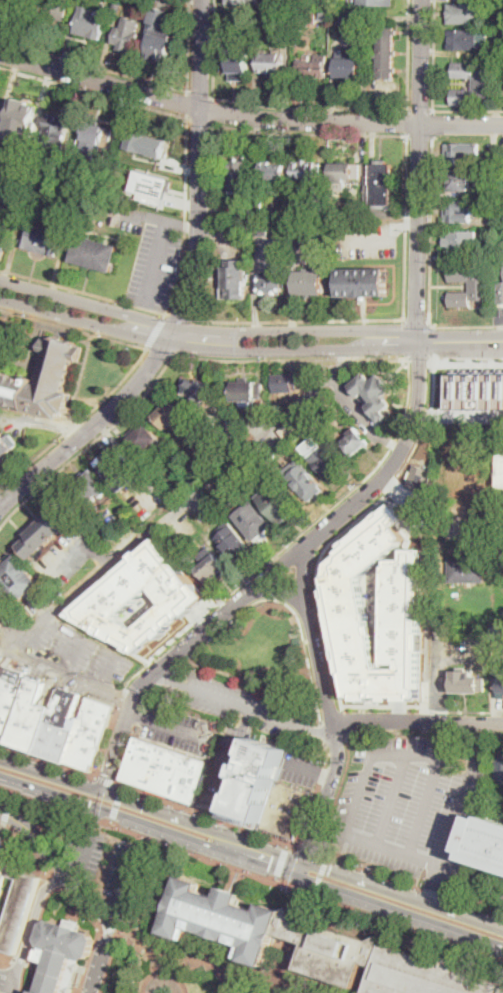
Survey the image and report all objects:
building: (259, 0)
building: (241, 1)
building: (376, 3)
building: (16, 5)
building: (58, 8)
building: (117, 10)
building: (462, 13)
building: (297, 14)
building: (311, 17)
building: (324, 17)
building: (349, 20)
building: (227, 21)
building: (89, 23)
building: (297, 27)
building: (126, 34)
building: (468, 40)
road: (188, 46)
building: (159, 47)
road: (213, 47)
building: (385, 51)
building: (499, 52)
road: (407, 54)
road: (433, 55)
building: (238, 63)
road: (94, 64)
building: (271, 64)
building: (348, 65)
building: (313, 66)
building: (474, 83)
road: (200, 94)
road: (139, 102)
road: (187, 103)
road: (212, 108)
road: (309, 108)
road: (420, 109)
road: (468, 109)
building: (25, 115)
road: (198, 116)
road: (247, 116)
road: (407, 121)
road: (433, 123)
building: (56, 131)
road: (299, 132)
road: (419, 135)
building: (97, 137)
building: (146, 143)
building: (494, 150)
building: (461, 154)
building: (5, 158)
building: (306, 172)
building: (272, 173)
building: (343, 175)
building: (459, 180)
building: (98, 181)
building: (240, 184)
building: (380, 184)
building: (10, 185)
building: (150, 187)
building: (259, 208)
building: (322, 211)
building: (357, 211)
building: (460, 211)
road: (150, 217)
building: (499, 217)
road: (189, 225)
road: (409, 225)
building: (262, 228)
road: (430, 229)
building: (309, 230)
building: (241, 234)
road: (374, 236)
building: (41, 239)
parking lot: (368, 239)
building: (462, 241)
building: (500, 246)
road: (294, 249)
road: (258, 251)
building: (95, 253)
parking lot: (269, 253)
parking lot: (308, 254)
parking lot: (151, 255)
road: (157, 263)
road: (179, 263)
building: (235, 280)
building: (309, 282)
building: (364, 282)
building: (271, 284)
building: (480, 286)
road: (83, 290)
road: (187, 290)
building: (502, 293)
road: (255, 301)
road: (292, 301)
parking lot: (497, 313)
road: (177, 315)
road: (296, 319)
road: (416, 320)
road: (499, 320)
road: (419, 323)
road: (465, 326)
road: (195, 328)
road: (502, 329)
road: (155, 331)
road: (450, 339)
road: (196, 345)
road: (160, 351)
road: (143, 353)
road: (346, 357)
road: (383, 358)
road: (419, 358)
road: (465, 360)
building: (288, 381)
building: (44, 382)
road: (333, 382)
building: (476, 389)
road: (149, 390)
building: (196, 390)
building: (245, 393)
building: (375, 397)
road: (408, 400)
road: (357, 412)
building: (171, 414)
building: (295, 425)
building: (144, 437)
road: (388, 442)
building: (353, 443)
road: (393, 443)
building: (7, 445)
building: (285, 455)
building: (323, 457)
building: (178, 464)
building: (118, 467)
building: (501, 467)
road: (15, 475)
building: (420, 478)
building: (303, 479)
building: (464, 480)
building: (92, 487)
road: (180, 500)
building: (280, 504)
building: (255, 522)
road: (350, 525)
road: (498, 526)
building: (48, 529)
building: (231, 540)
building: (211, 565)
road: (259, 568)
building: (466, 570)
building: (17, 578)
road: (285, 588)
building: (121, 591)
road: (278, 601)
building: (347, 604)
building: (2, 612)
building: (498, 632)
road: (190, 642)
road: (70, 651)
park: (261, 653)
parking lot: (77, 661)
road: (108, 667)
road: (67, 671)
building: (467, 682)
building: (501, 689)
road: (124, 691)
road: (243, 704)
parking lot: (247, 706)
road: (422, 706)
road: (330, 713)
road: (417, 721)
building: (51, 722)
road: (166, 723)
road: (344, 723)
parking lot: (181, 729)
road: (422, 732)
road: (108, 737)
road: (115, 751)
road: (234, 758)
road: (49, 762)
parking lot: (226, 764)
parking lot: (302, 766)
road: (29, 769)
building: (500, 769)
building: (166, 770)
road: (309, 771)
building: (258, 778)
road: (105, 781)
road: (122, 790)
road: (359, 793)
road: (107, 794)
road: (338, 797)
road: (392, 800)
parking lot: (411, 801)
road: (10, 803)
road: (116, 805)
road: (427, 805)
road: (484, 805)
parking lot: (492, 806)
traffic signals: (90, 807)
traffic signals: (143, 807)
building: (288, 810)
road: (460, 811)
road: (206, 815)
road: (112, 822)
road: (43, 827)
road: (151, 827)
road: (231, 837)
building: (487, 840)
road: (310, 850)
road: (83, 855)
road: (283, 859)
road: (60, 862)
traffic signals: (270, 866)
road: (319, 868)
road: (321, 872)
traffic signals: (329, 873)
road: (251, 874)
road: (471, 877)
road: (277, 878)
road: (411, 884)
road: (125, 886)
road: (432, 886)
parking lot: (482, 886)
road: (315, 892)
road: (417, 903)
building: (14, 905)
road: (403, 911)
building: (224, 920)
road: (32, 926)
building: (332, 949)
building: (64, 955)
road: (101, 958)
road: (111, 960)
road: (203, 961)
road: (165, 972)
building: (427, 976)
park: (162, 977)
road: (243, 985)

